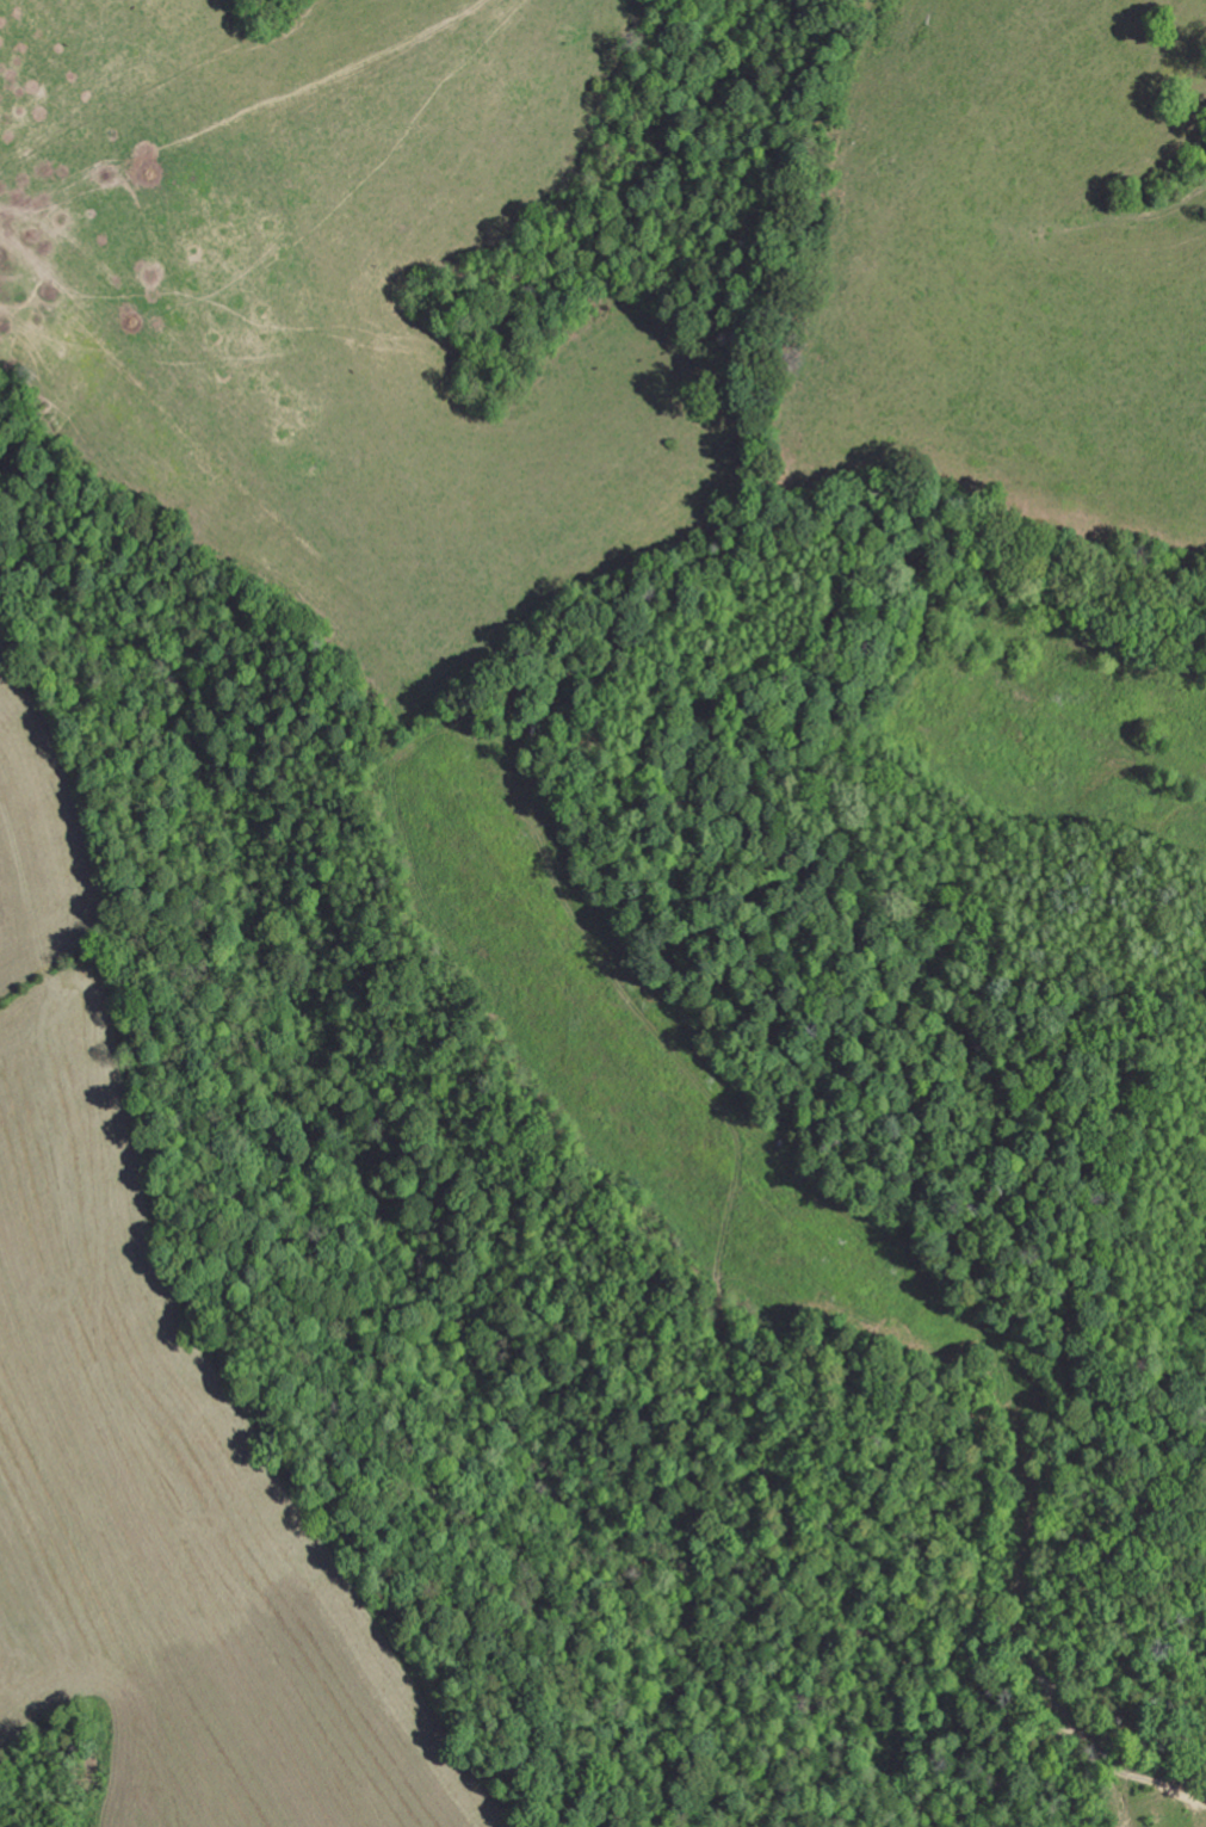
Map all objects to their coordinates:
road: (530, 599)

